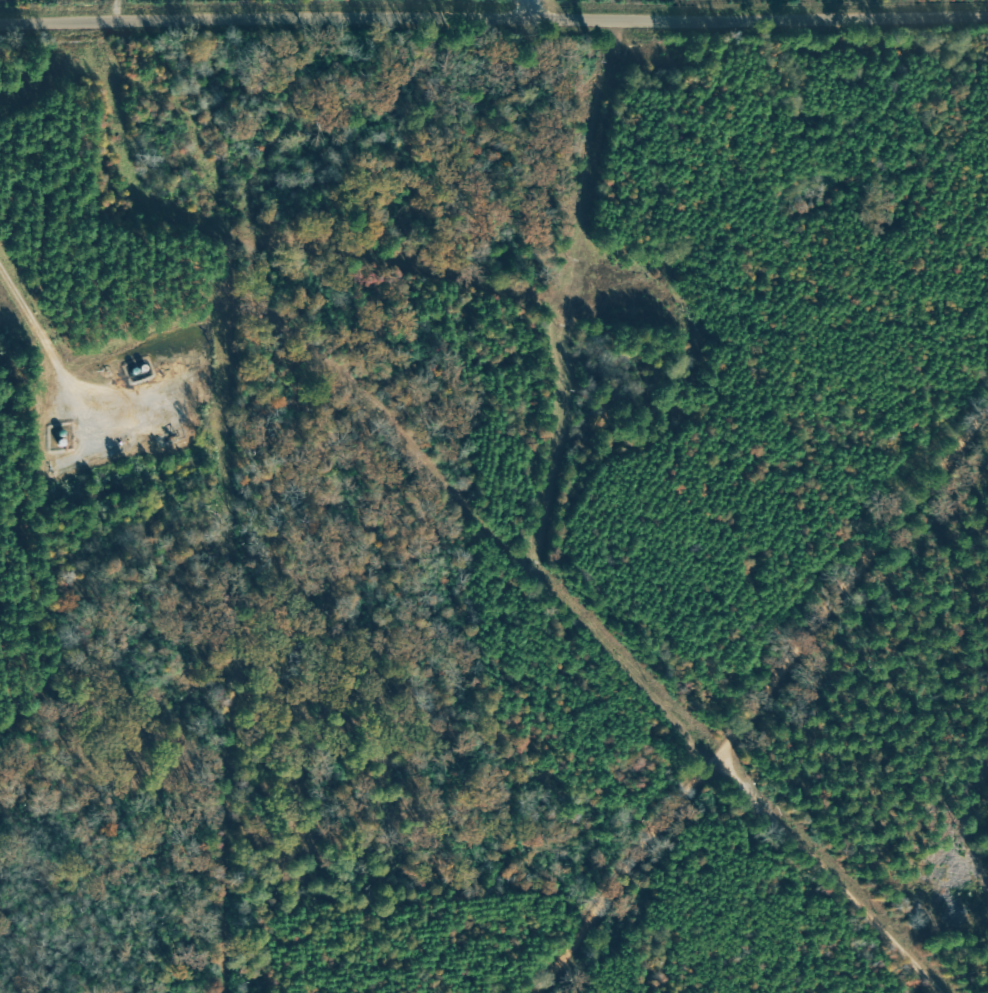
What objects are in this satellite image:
road: (494, 32)
road: (780, 706)
road: (824, 864)

